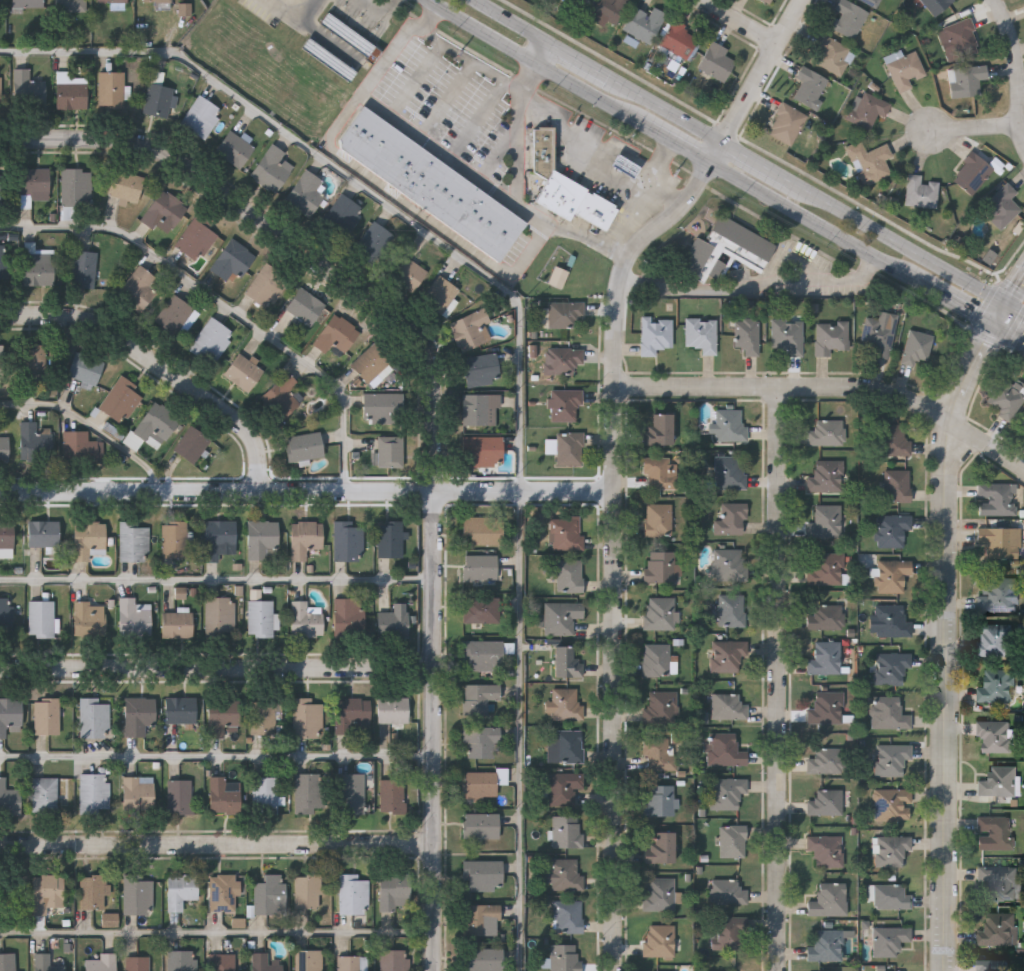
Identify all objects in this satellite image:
building: (112, 0)
building: (158, 1)
building: (580, 1)
building: (769, 1)
building: (873, 1)
building: (0, 3)
building: (28, 3)
building: (937, 4)
building: (70, 5)
building: (186, 10)
road: (285, 10)
building: (606, 10)
road: (378, 11)
building: (849, 17)
road: (510, 22)
road: (742, 22)
building: (644, 23)
road: (316, 31)
building: (963, 37)
building: (350, 38)
building: (679, 39)
building: (833, 53)
road: (541, 54)
building: (329, 60)
road: (470, 60)
building: (715, 61)
road: (577, 62)
road: (535, 64)
road: (1019, 65)
building: (906, 69)
road: (764, 73)
road: (528, 77)
road: (418, 79)
building: (967, 79)
building: (811, 86)
building: (0, 87)
building: (27, 88)
building: (111, 89)
building: (70, 91)
road: (448, 99)
building: (157, 100)
building: (868, 110)
road: (664, 112)
building: (201, 116)
road: (479, 119)
building: (788, 122)
road: (977, 129)
road: (677, 141)
building: (234, 148)
road: (440, 149)
building: (543, 150)
road: (502, 151)
road: (715, 153)
building: (871, 160)
road: (577, 161)
road: (755, 163)
road: (519, 164)
building: (625, 164)
building: (273, 168)
building: (973, 171)
road: (656, 177)
road: (356, 181)
building: (430, 181)
building: (32, 184)
building: (126, 185)
building: (76, 186)
building: (3, 189)
building: (922, 190)
building: (306, 192)
building: (562, 193)
road: (400, 196)
building: (1003, 204)
building: (596, 209)
building: (164, 212)
building: (341, 214)
road: (812, 221)
road: (632, 225)
building: (197, 237)
road: (901, 239)
building: (373, 242)
building: (705, 253)
road: (624, 256)
building: (232, 261)
building: (38, 263)
building: (4, 264)
building: (83, 268)
building: (406, 274)
building: (559, 278)
building: (267, 285)
building: (137, 288)
road: (753, 289)
road: (1016, 292)
building: (440, 294)
road: (957, 301)
road: (227, 303)
traffic signals: (1009, 303)
building: (305, 305)
road: (1016, 308)
road: (1003, 312)
building: (565, 314)
building: (176, 316)
traffic signals: (998, 322)
building: (471, 330)
road: (1011, 331)
building: (879, 333)
building: (654, 334)
building: (700, 335)
building: (336, 336)
building: (746, 336)
building: (787, 336)
building: (830, 336)
building: (211, 341)
building: (915, 347)
building: (561, 360)
building: (32, 361)
building: (1, 362)
building: (371, 362)
building: (85, 369)
road: (159, 369)
building: (479, 369)
building: (243, 372)
road: (830, 389)
building: (284, 395)
building: (121, 399)
building: (1004, 399)
building: (564, 404)
building: (381, 407)
building: (481, 409)
road: (437, 411)
building: (157, 422)
building: (729, 425)
road: (98, 427)
building: (658, 430)
building: (826, 433)
building: (893, 439)
building: (34, 440)
building: (192, 443)
building: (304, 445)
building: (80, 447)
building: (4, 448)
building: (568, 448)
building: (390, 450)
building: (484, 451)
building: (729, 472)
building: (659, 473)
building: (825, 476)
building: (896, 485)
road: (218, 494)
road: (526, 494)
building: (996, 498)
building: (731, 519)
building: (658, 520)
building: (826, 520)
building: (484, 529)
building: (891, 530)
building: (565, 532)
building: (44, 533)
building: (6, 534)
building: (218, 536)
building: (305, 537)
building: (262, 538)
building: (389, 538)
building: (173, 539)
building: (90, 540)
building: (135, 540)
building: (348, 540)
building: (999, 541)
road: (615, 550)
building: (729, 564)
building: (480, 566)
building: (658, 566)
building: (825, 569)
building: (892, 575)
building: (567, 576)
road: (218, 578)
building: (996, 593)
building: (256, 595)
building: (480, 609)
building: (730, 610)
building: (658, 613)
building: (6, 614)
building: (220, 614)
building: (134, 616)
building: (560, 616)
building: (349, 617)
building: (825, 617)
building: (41, 618)
building: (90, 618)
building: (260, 618)
building: (306, 620)
building: (890, 621)
building: (177, 624)
building: (393, 624)
building: (994, 639)
road: (948, 641)
building: (486, 654)
building: (727, 655)
building: (824, 657)
building: (656, 659)
building: (565, 662)
building: (890, 667)
road: (218, 669)
road: (780, 679)
building: (995, 685)
building: (479, 697)
building: (566, 703)
building: (660, 706)
building: (728, 706)
building: (825, 707)
building: (180, 709)
building: (393, 710)
building: (353, 713)
building: (888, 713)
building: (47, 715)
building: (138, 715)
building: (11, 716)
building: (95, 716)
building: (223, 716)
building: (308, 716)
building: (263, 717)
road: (521, 733)
building: (994, 736)
building: (480, 741)
building: (567, 745)
building: (724, 749)
building: (657, 753)
road: (218, 755)
building: (890, 759)
building: (825, 760)
building: (997, 781)
building: (479, 783)
building: (563, 787)
building: (95, 791)
building: (138, 792)
building: (350, 792)
building: (727, 792)
building: (44, 793)
building: (307, 793)
building: (179, 795)
building: (264, 795)
building: (392, 795)
building: (223, 796)
building: (9, 798)
building: (658, 800)
building: (825, 802)
building: (891, 804)
building: (481, 825)
building: (566, 832)
building: (995, 832)
building: (732, 840)
road: (218, 847)
building: (659, 848)
building: (825, 850)
building: (889, 850)
building: (563, 874)
building: (482, 875)
building: (996, 881)
building: (180, 889)
building: (308, 889)
building: (93, 890)
building: (397, 891)
building: (224, 892)
building: (726, 892)
building: (48, 893)
building: (353, 893)
building: (9, 894)
building: (137, 894)
building: (269, 894)
building: (657, 894)
building: (890, 896)
building: (828, 899)
building: (567, 916)
building: (481, 917)
building: (110, 919)
building: (997, 928)
road: (218, 933)
building: (726, 933)
building: (658, 940)
building: (888, 940)
building: (825, 945)
building: (564, 957)
building: (394, 959)
building: (483, 959)
building: (181, 960)
building: (309, 960)
building: (7, 961)
building: (99, 961)
building: (50, 962)
building: (222, 962)
building: (265, 962)
building: (349, 962)
building: (137, 963)
building: (993, 964)
building: (888, 970)

